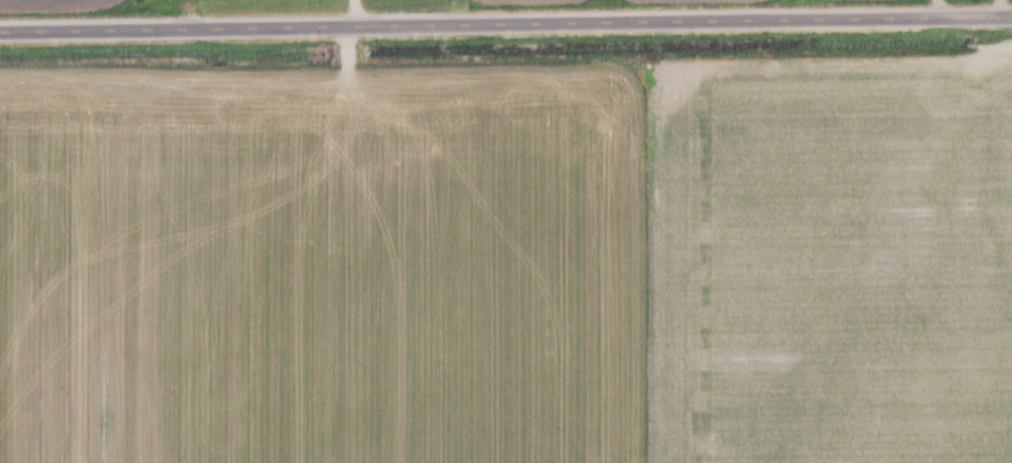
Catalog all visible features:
road: (350, 13)
road: (506, 23)

